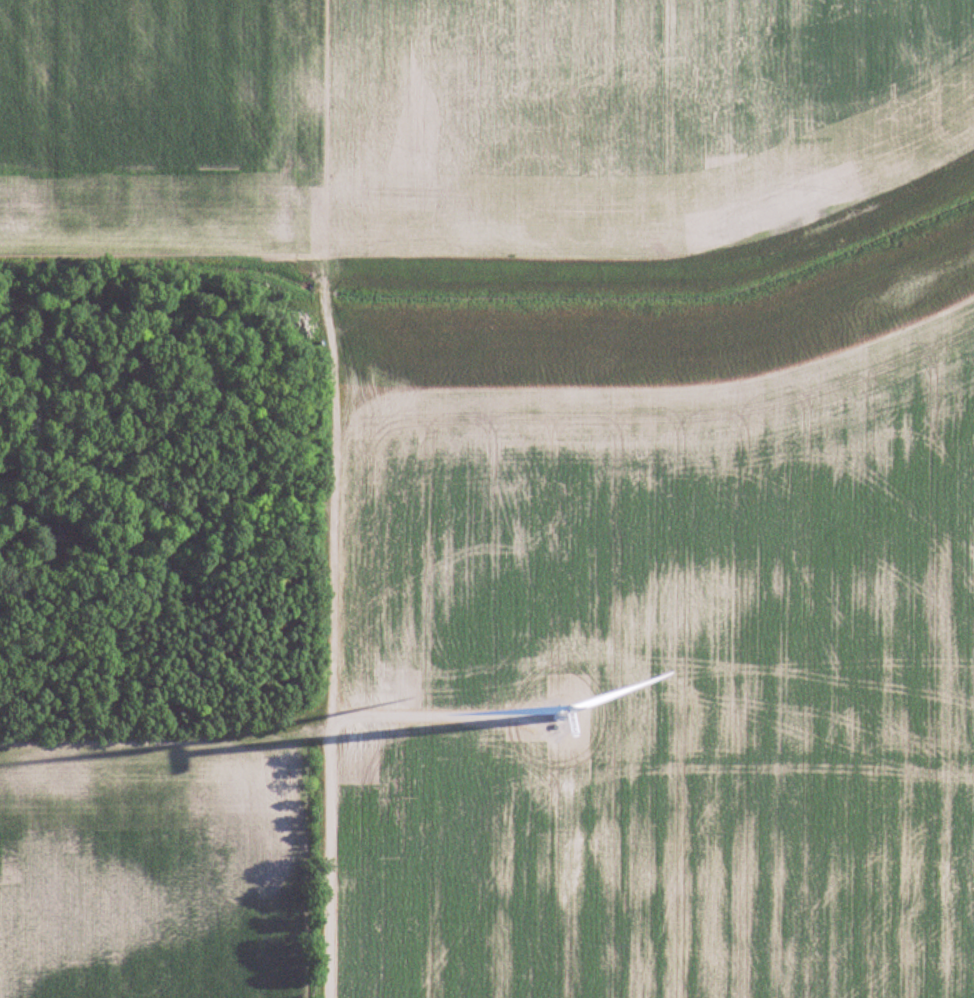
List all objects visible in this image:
wind turbine: (499, 720)
road: (314, 809)

